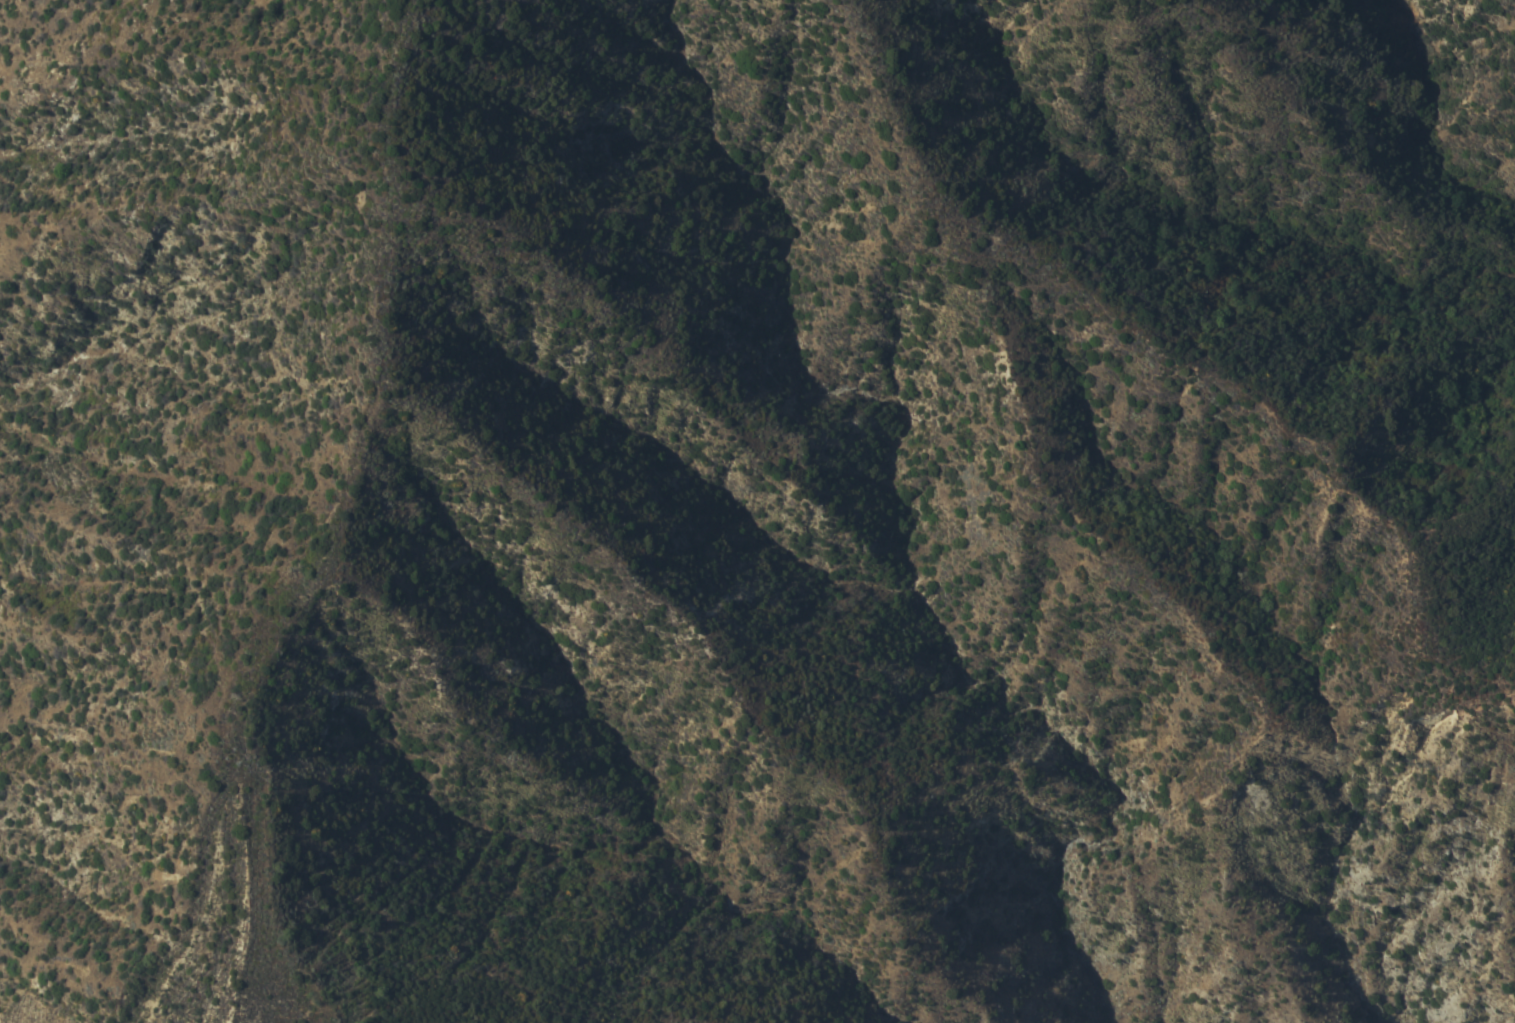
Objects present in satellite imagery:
quarry: (143, 907)

